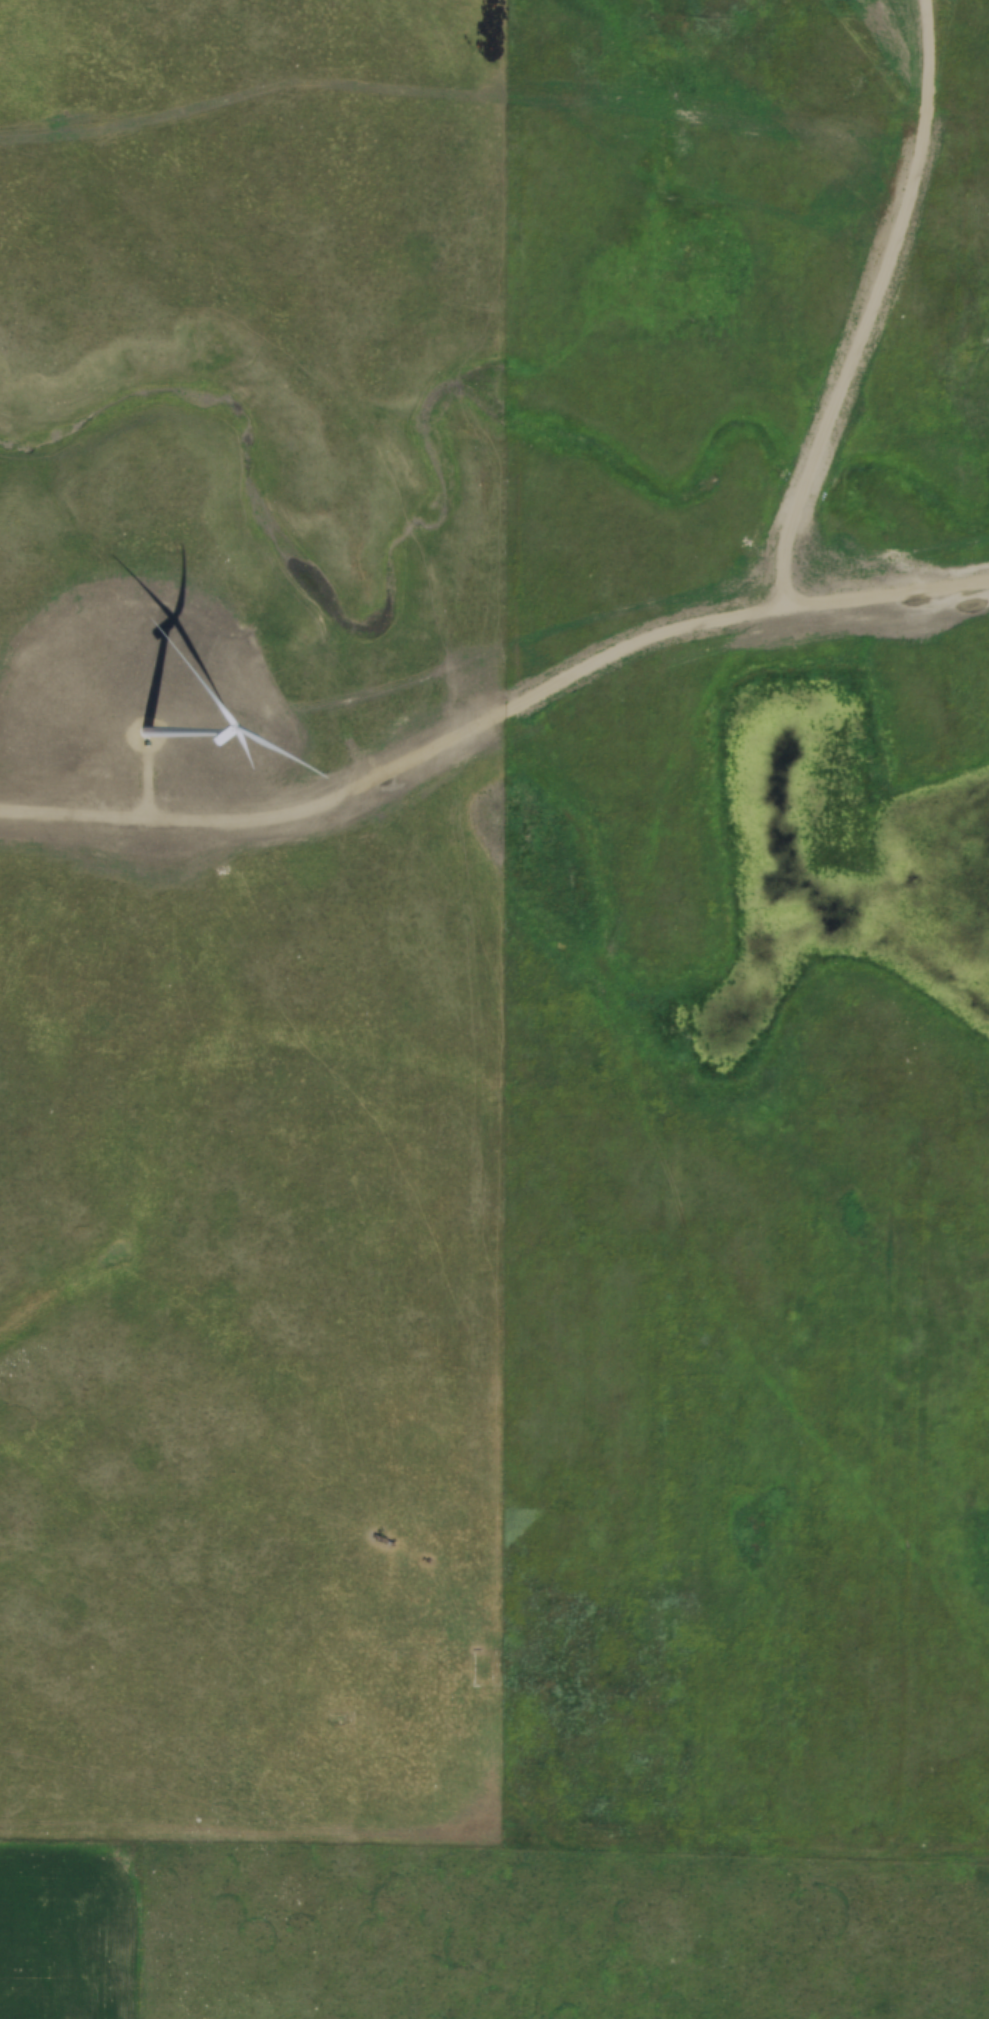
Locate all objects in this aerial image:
wind turbine: (145, 729)

